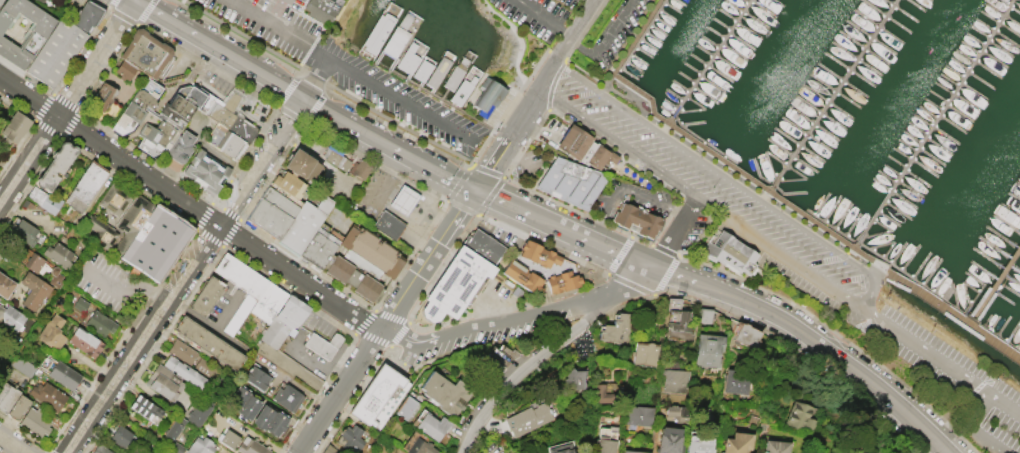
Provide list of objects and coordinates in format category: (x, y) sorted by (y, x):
building: (47, 0)
road: (595, 0)
building: (0, 1)
building: (40, 1)
building: (335, 1)
building: (321, 11)
road: (144, 12)
building: (87, 16)
road: (546, 17)
road: (129, 20)
road: (272, 22)
parking lot: (269, 25)
road: (338, 25)
road: (577, 28)
building: (22, 32)
building: (377, 33)
road: (243, 35)
road: (237, 37)
road: (603, 38)
building: (395, 41)
road: (519, 42)
road: (220, 49)
road: (320, 50)
road: (305, 53)
building: (56, 54)
road: (183, 54)
building: (142, 55)
building: (408, 58)
pier: (715, 58)
road: (186, 60)
building: (464, 61)
road: (206, 64)
building: (422, 70)
road: (163, 72)
building: (438, 72)
road: (308, 75)
road: (315, 77)
building: (454, 77)
road: (160, 83)
road: (287, 89)
building: (462, 90)
road: (165, 92)
pier: (835, 95)
building: (488, 97)
building: (103, 98)
road: (402, 98)
road: (66, 100)
building: (184, 100)
parking lot: (404, 103)
building: (135, 106)
road: (284, 110)
fountain: (149, 116)
road: (148, 120)
road: (515, 123)
pier: (939, 124)
building: (15, 127)
building: (229, 128)
road: (489, 132)
building: (160, 134)
road: (128, 136)
road: (387, 145)
railway: (489, 145)
building: (183, 146)
road: (615, 146)
building: (588, 152)
road: (315, 157)
building: (336, 159)
building: (57, 164)
building: (302, 165)
building: (359, 168)
building: (206, 173)
building: (287, 182)
road: (731, 182)
building: (572, 184)
road: (622, 185)
building: (88, 186)
traffic signals: (473, 190)
parking lot: (719, 197)
building: (46, 200)
building: (116, 200)
building: (403, 200)
building: (29, 204)
road: (189, 207)
building: (271, 213)
building: (637, 223)
building: (302, 224)
building: (388, 225)
road: (562, 228)
building: (25, 231)
building: (105, 231)
road: (672, 233)
building: (483, 244)
building: (156, 245)
building: (319, 248)
building: (730, 252)
building: (538, 253)
building: (61, 255)
road: (780, 256)
building: (37, 263)
building: (363, 263)
building: (243, 275)
road: (184, 276)
building: (522, 276)
building: (58, 277)
building: (562, 281)
road: (634, 281)
parking lot: (107, 283)
building: (6, 285)
building: (455, 285)
road: (124, 289)
pier: (997, 289)
building: (36, 290)
building: (209, 296)
building: (271, 302)
building: (676, 304)
building: (82, 305)
building: (1, 309)
road: (226, 309)
street lamp: (369, 309)
building: (294, 311)
building: (241, 314)
road: (528, 315)
building: (705, 316)
building: (13, 318)
road: (386, 321)
building: (101, 324)
building: (680, 327)
building: (616, 330)
building: (53, 332)
building: (277, 333)
building: (747, 335)
road: (410, 339)
road: (812, 339)
building: (87, 343)
building: (211, 343)
building: (325, 345)
building: (708, 349)
building: (185, 352)
building: (645, 354)
road: (523, 358)
building: (24, 366)
road: (949, 366)
building: (206, 367)
building: (187, 372)
building: (66, 376)
building: (672, 376)
parking lot: (951, 376)
building: (259, 378)
building: (575, 378)
building: (738, 381)
building: (167, 382)
building: (449, 392)
building: (375, 395)
building: (607, 395)
building: (50, 396)
building: (7, 397)
building: (290, 398)
building: (246, 403)
building: (20, 407)
building: (147, 408)
building: (411, 409)
building: (678, 413)
building: (201, 414)
building: (703, 414)
building: (802, 414)
building: (638, 415)
building: (528, 419)
railway: (978, 420)
building: (273, 421)
building: (37, 422)
building: (436, 426)
building: (176, 429)
road: (973, 429)
building: (123, 436)
building: (350, 438)
building: (231, 439)
building: (669, 439)
building: (738, 441)
road: (12, 444)
building: (700, 444)
building: (608, 445)
building: (203, 446)
building: (776, 446)
building: (253, 447)
building: (423, 447)
building: (179, 448)
building: (103, 449)
building: (332, 450)
building: (564, 451)
building: (635, 452)

